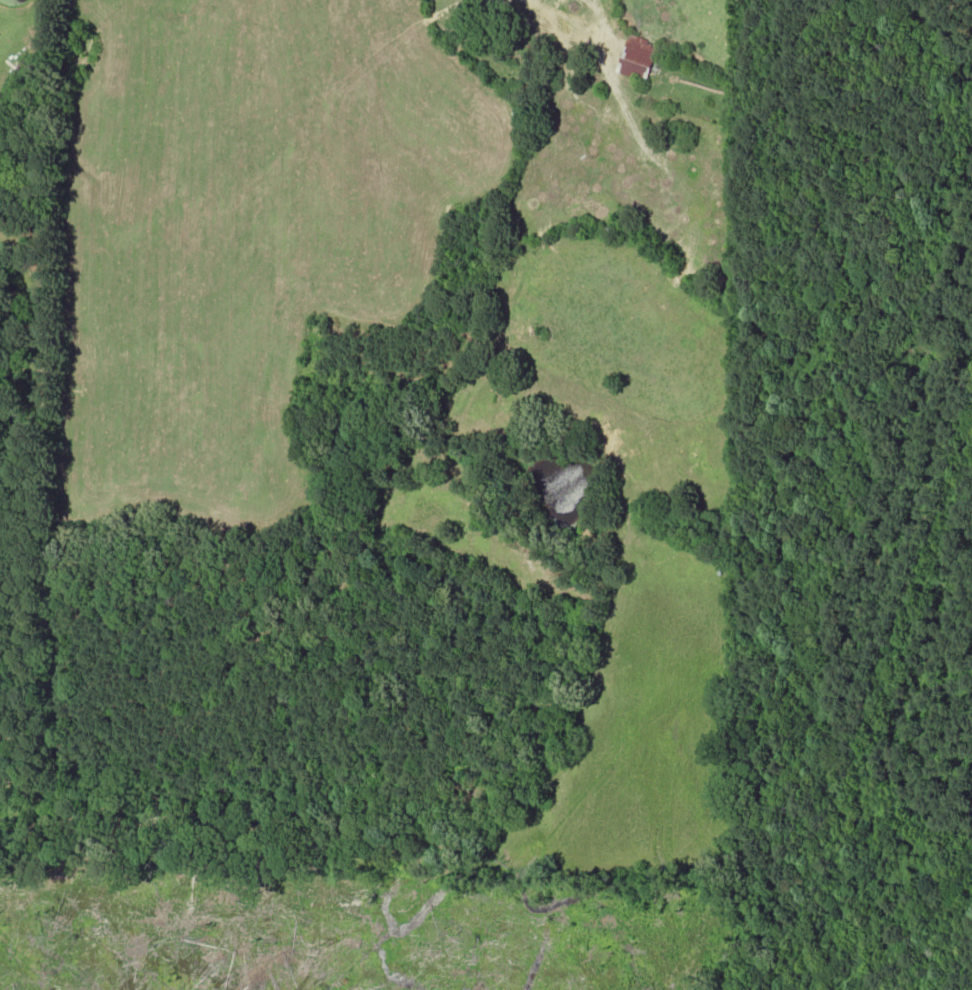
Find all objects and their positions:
building: (637, 59)

